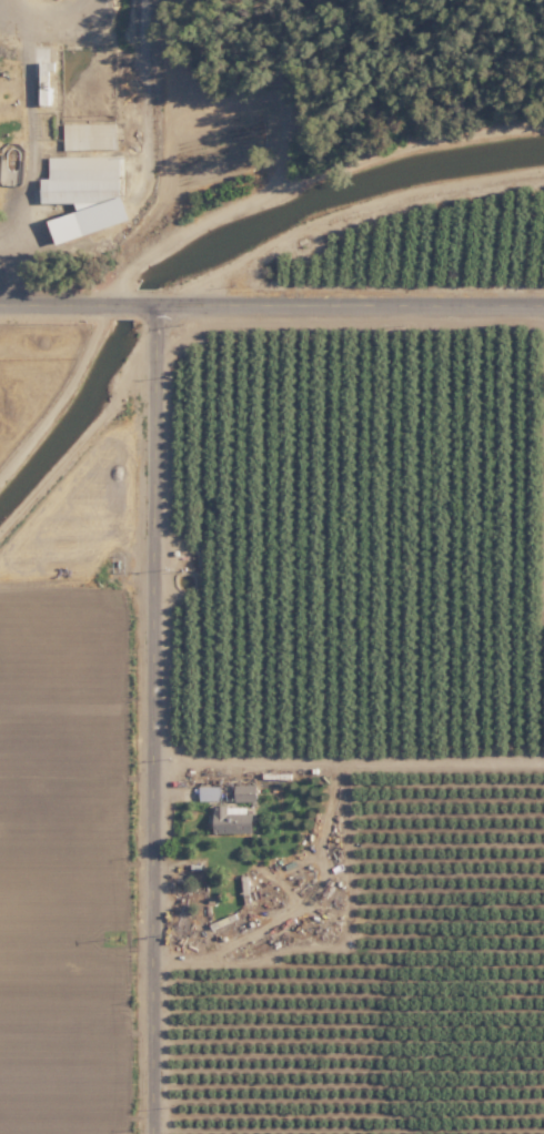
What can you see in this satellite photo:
road: (283, 101)
road: (301, 181)
building: (85, 192)
road: (339, 206)
road: (272, 304)
road: (151, 719)
crop: (79, 783)
building: (216, 790)
building: (244, 792)
building: (231, 819)

